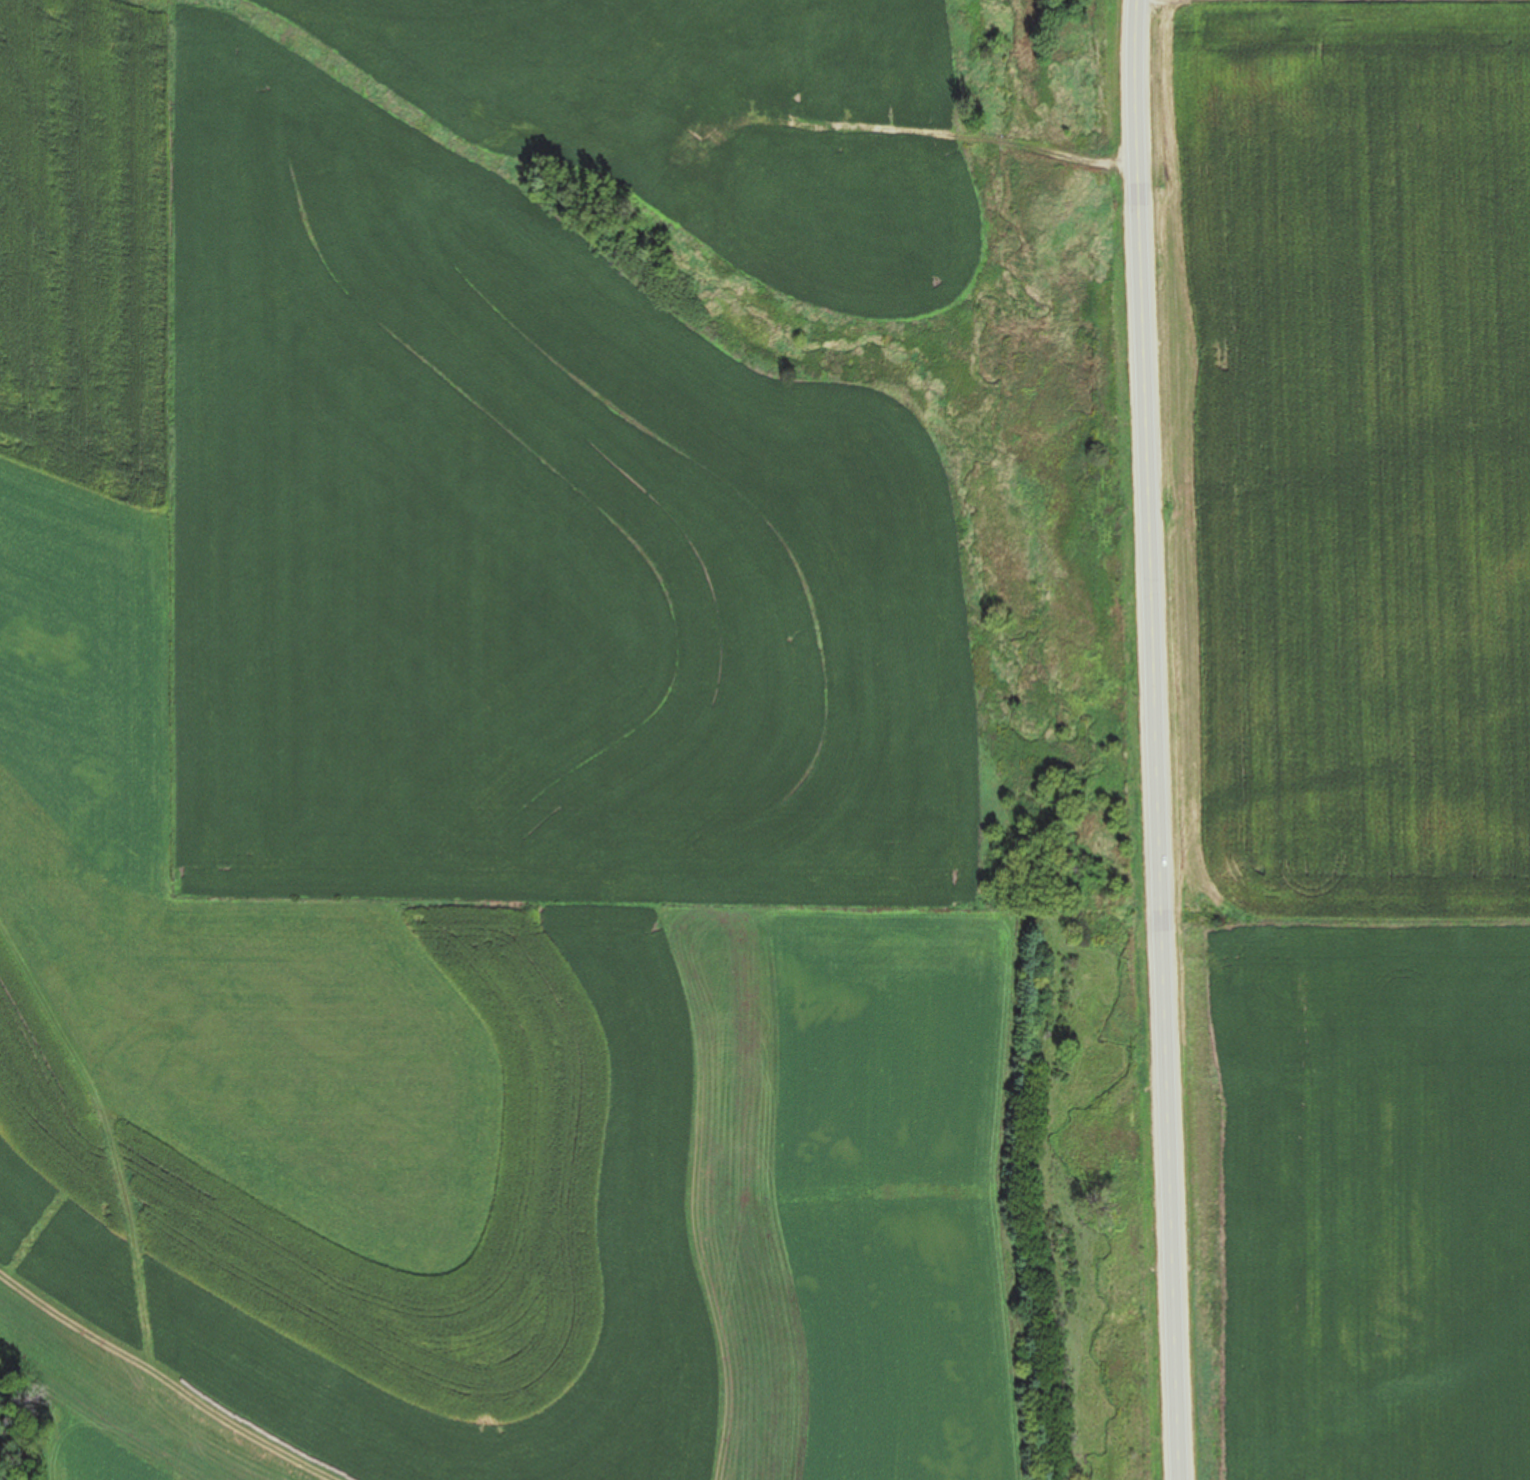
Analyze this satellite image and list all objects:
road: (1160, 739)

